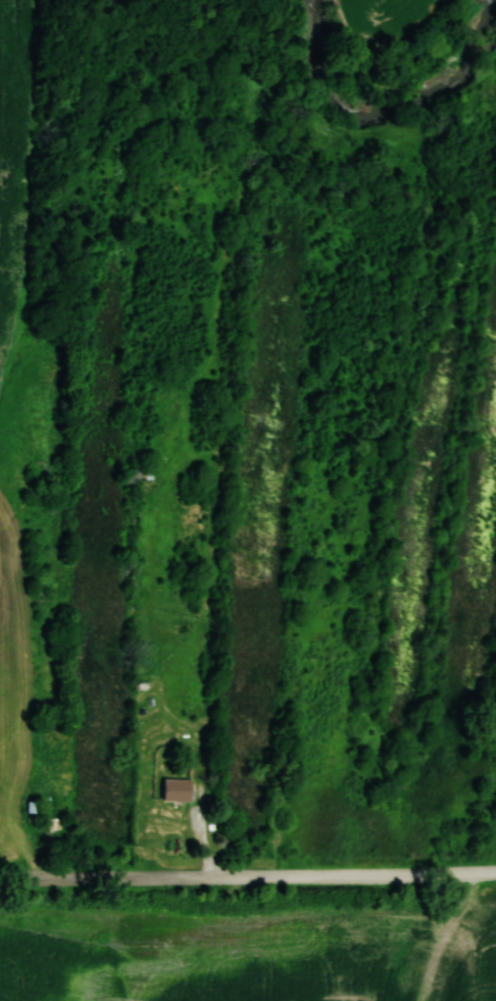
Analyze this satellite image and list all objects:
river: (382, 113)
building: (175, 789)
road: (248, 875)

